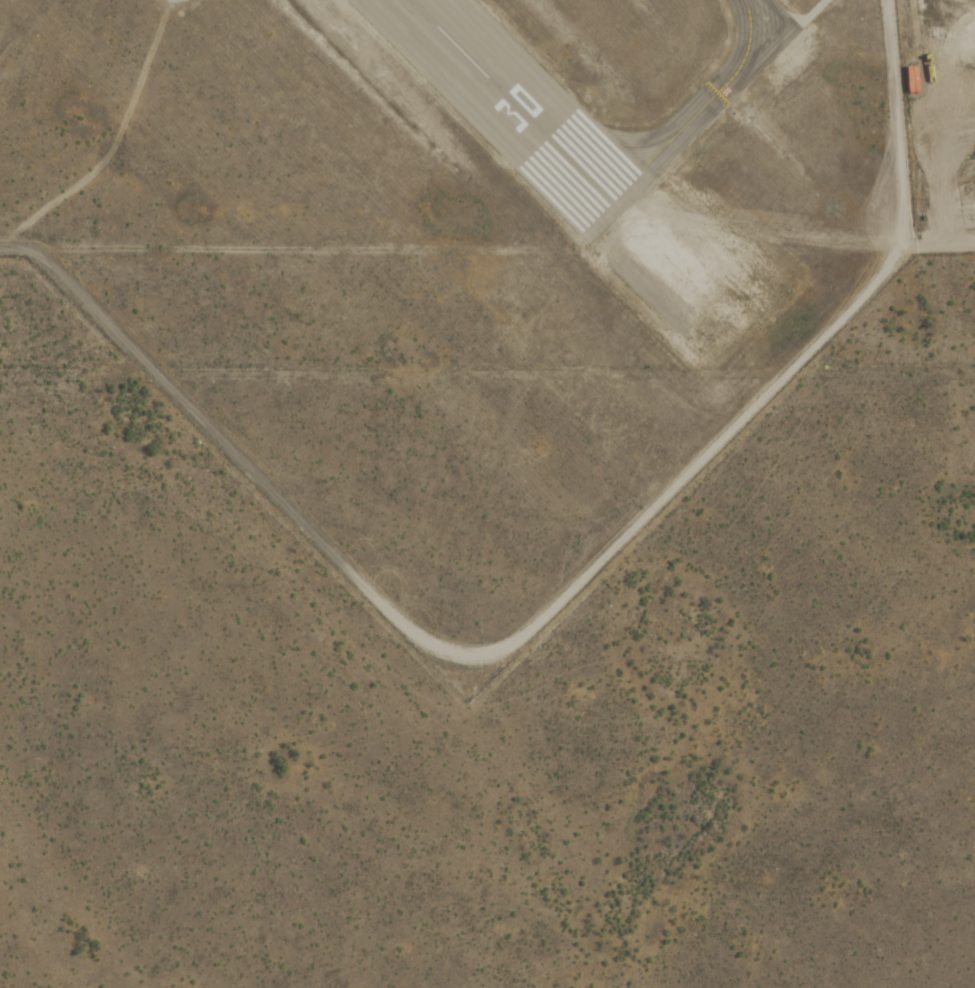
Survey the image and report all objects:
airport runway: (514, 105)
airport taxiway: (701, 110)
airport: (460, 257)
road: (556, 603)

